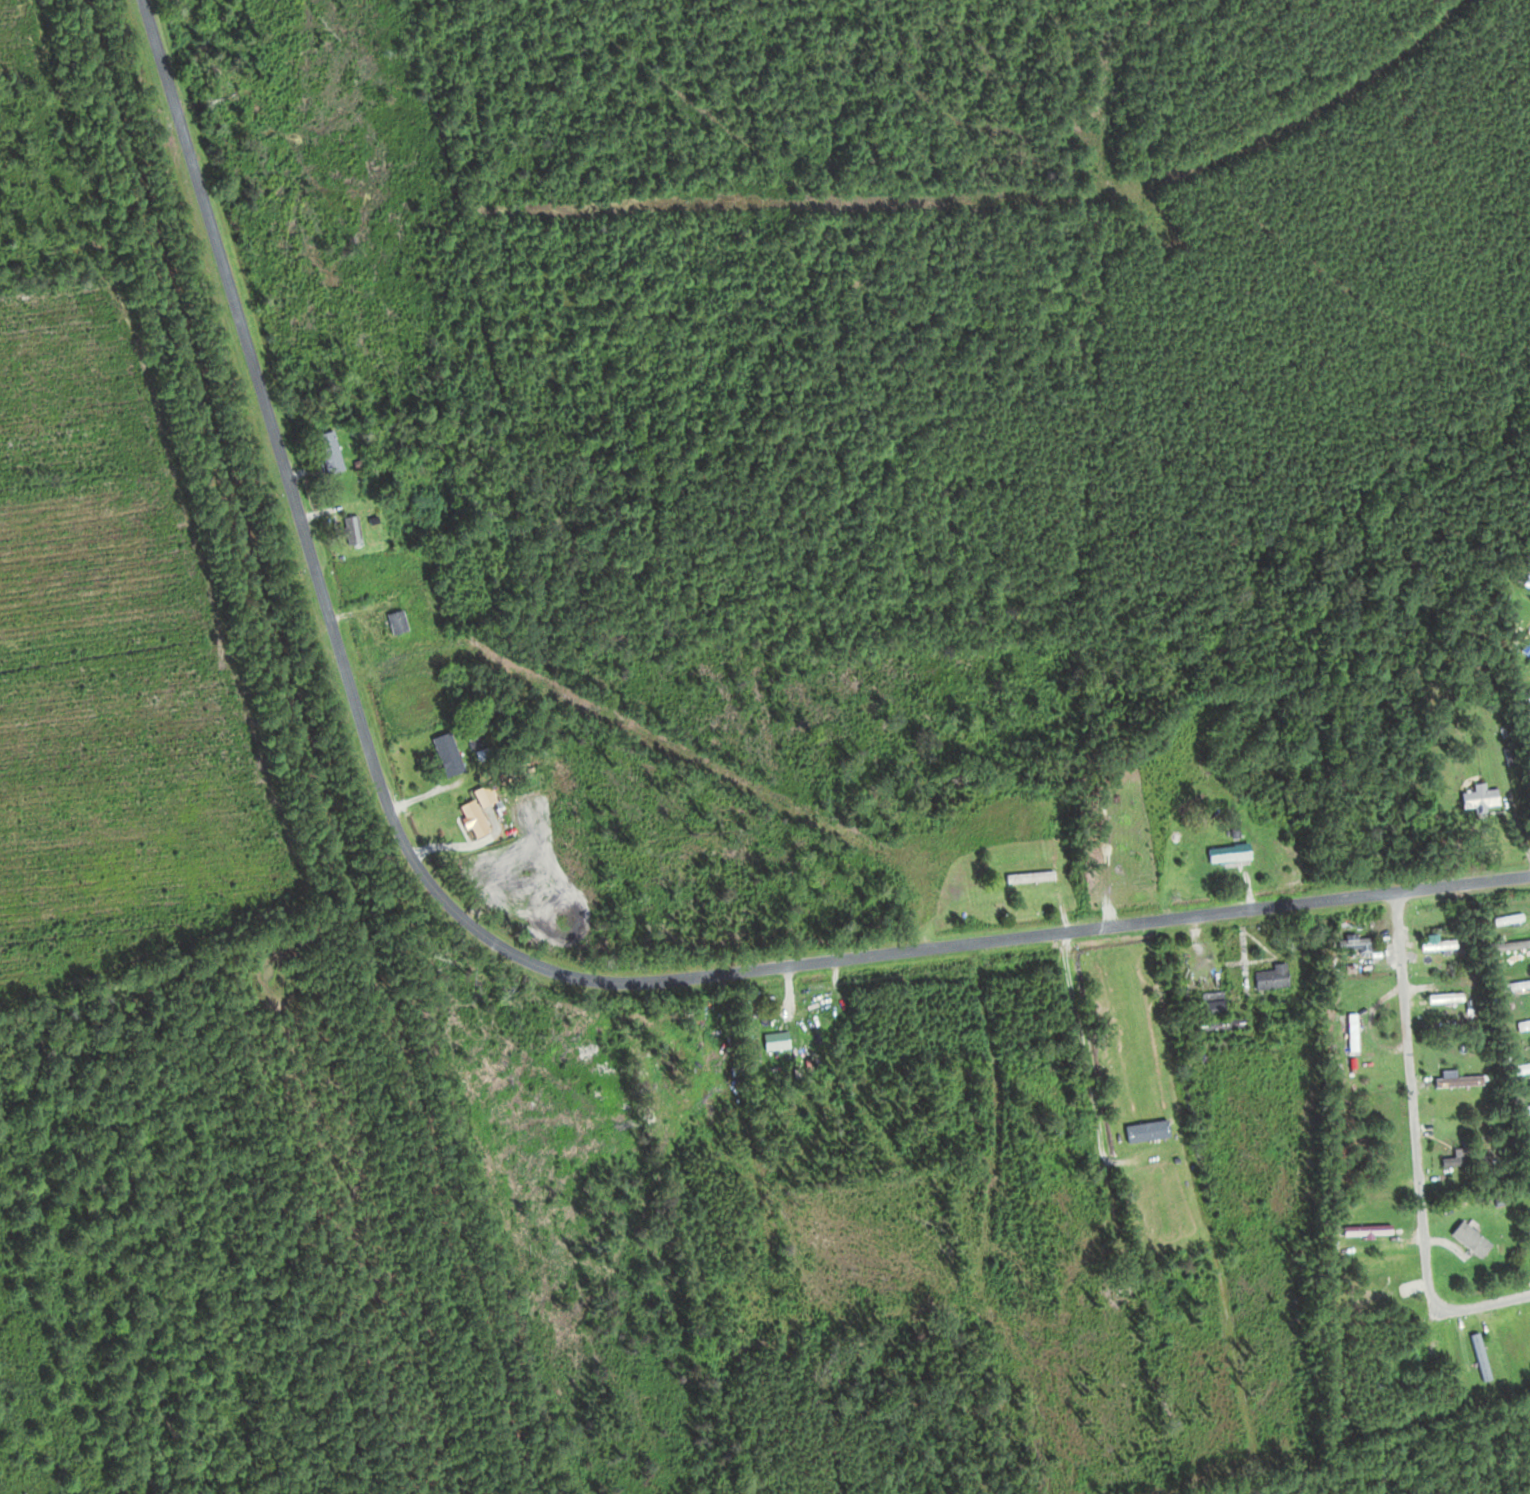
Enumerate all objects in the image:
road: (1012, 194)
building: (337, 456)
road: (292, 489)
building: (357, 531)
building: (1524, 580)
building: (402, 622)
building: (1524, 644)
building: (453, 754)
building: (1475, 798)
building: (487, 817)
building: (1223, 853)
building: (1036, 876)
road: (1011, 939)
building: (1350, 943)
building: (1433, 944)
building: (1266, 976)
building: (1517, 984)
building: (1206, 1003)
building: (1520, 1024)
building: (782, 1041)
building: (1524, 1067)
building: (1452, 1081)
building: (1525, 1106)
building: (1153, 1130)
road: (1419, 1145)
building: (1362, 1229)

